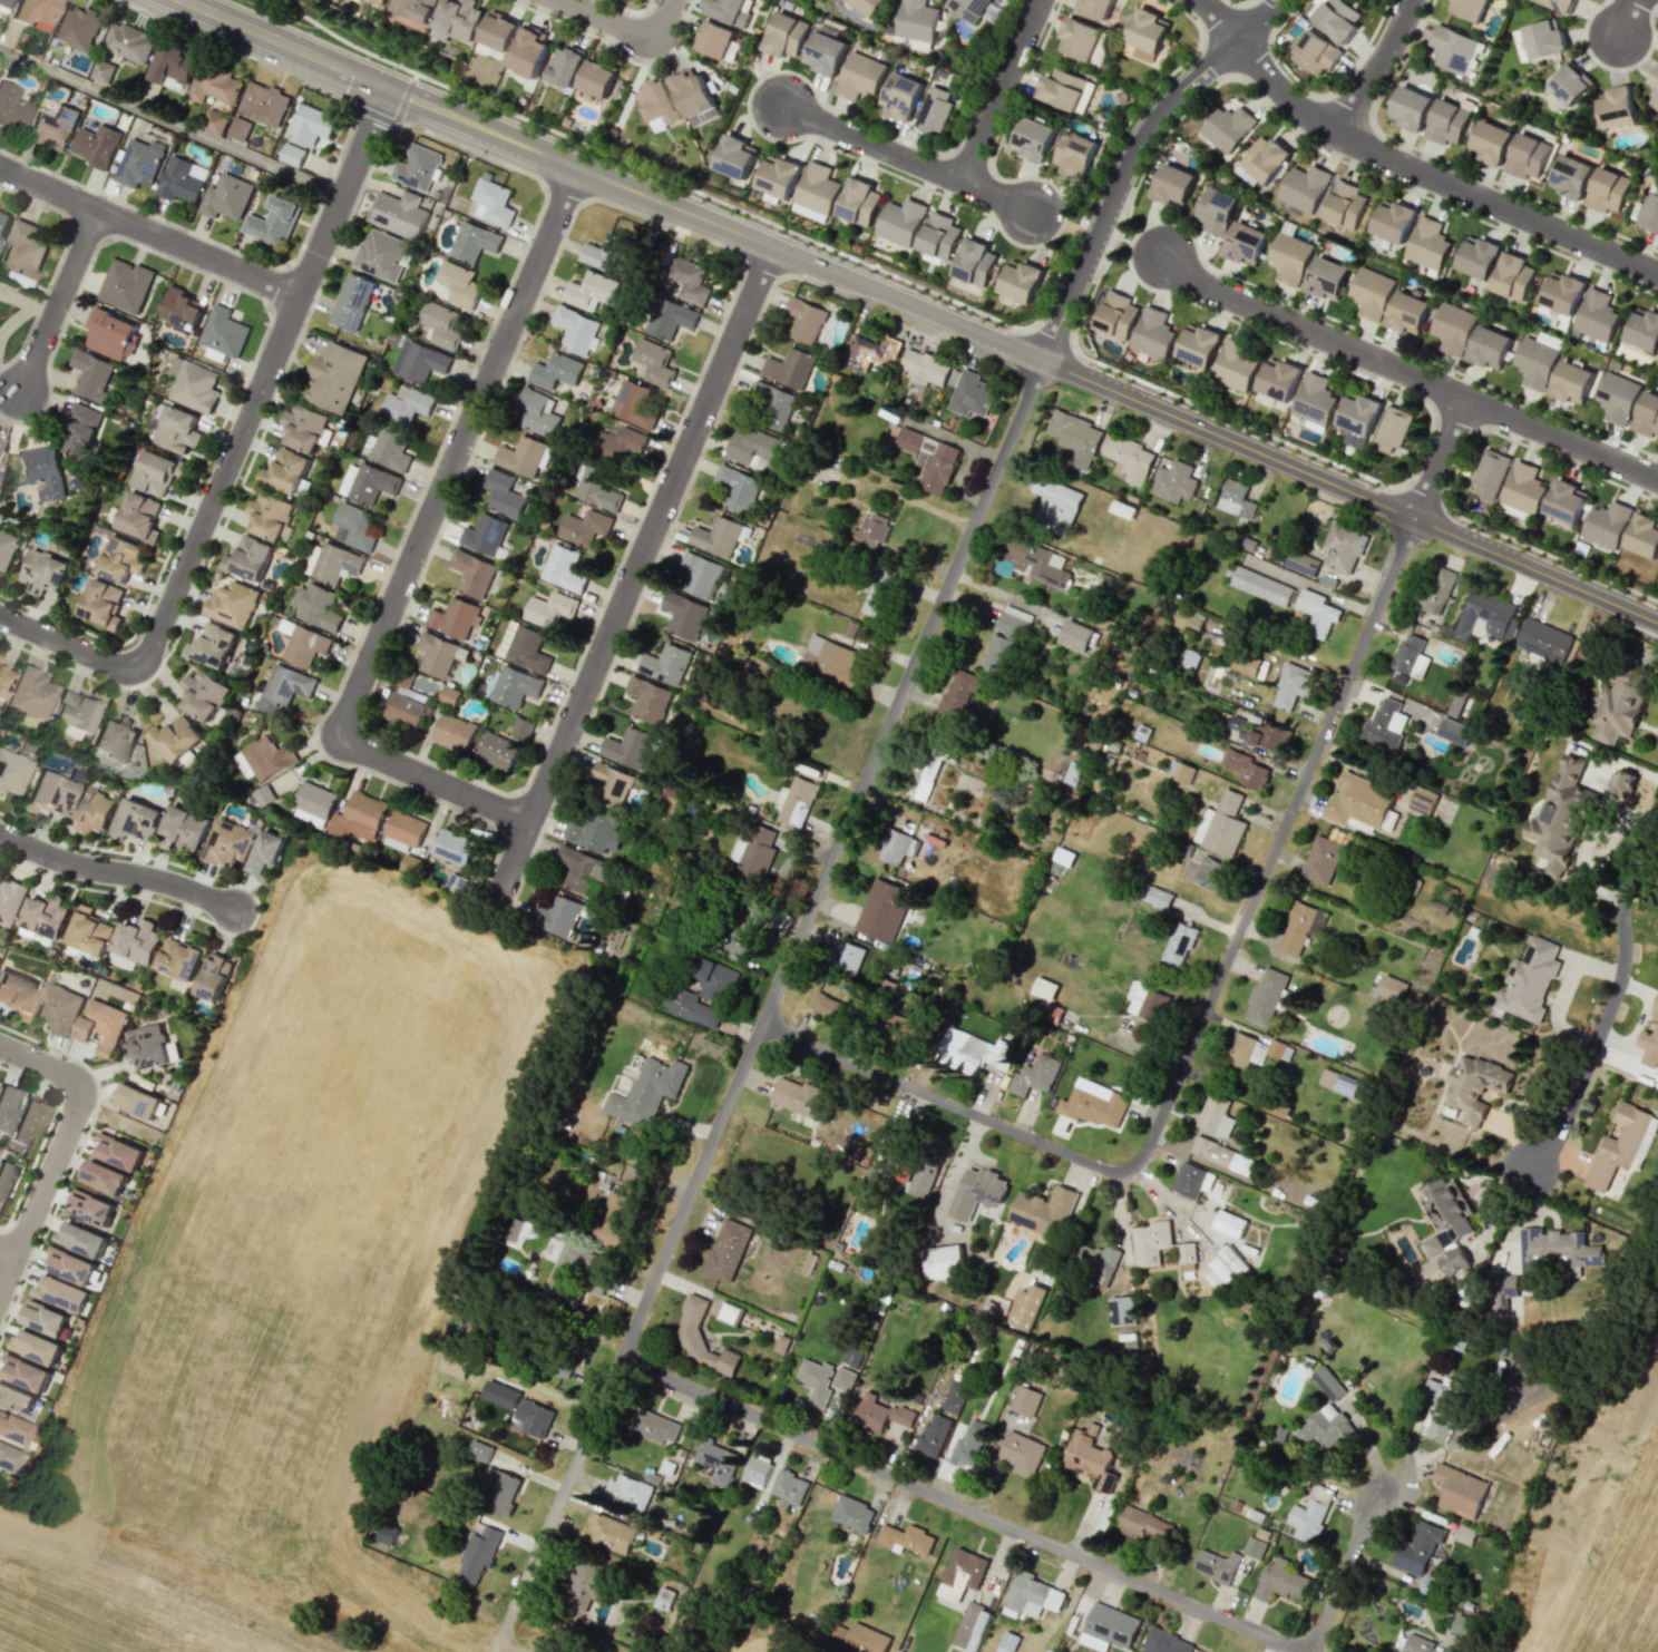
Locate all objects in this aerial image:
building: (380, 1)
building: (2, 2)
building: (1559, 4)
building: (869, 6)
building: (414, 8)
building: (969, 8)
building: (1095, 8)
building: (1470, 9)
building: (730, 10)
building: (33, 12)
road: (594, 16)
road: (1625, 16)
building: (1335, 17)
building: (456, 20)
building: (917, 25)
building: (76, 28)
road: (659, 28)
building: (1148, 30)
building: (497, 35)
building: (787, 35)
building: (1080, 38)
building: (1544, 38)
building: (715, 39)
building: (129, 41)
building: (1453, 49)
building: (528, 51)
building: (1315, 52)
building: (826, 53)
building: (565, 65)
road: (1375, 65)
building: (173, 67)
street lamp: (393, 67)
street lamp: (1602, 68)
building: (103, 71)
building: (861, 76)
building: (596, 78)
building: (214, 84)
building: (1570, 84)
building: (1655, 85)
road: (998, 90)
building: (1066, 90)
building: (901, 95)
building: (694, 97)
building: (263, 104)
building: (657, 104)
building: (11, 107)
building: (1618, 107)
building: (1411, 108)
building: (935, 110)
road: (169, 121)
building: (214, 121)
building: (1447, 123)
building: (311, 125)
street lamp: (408, 127)
building: (52, 128)
building: (240, 128)
building: (1227, 128)
building: (1033, 139)
building: (1492, 143)
building: (96, 145)
street lamp: (585, 146)
building: (292, 155)
building: (1075, 155)
building: (1528, 156)
building: (735, 157)
road: (904, 157)
road: (1125, 158)
building: (1265, 159)
building: (138, 164)
building: (417, 167)
road: (1407, 168)
building: (778, 176)
street lamp: (1044, 176)
building: (1572, 176)
building: (182, 179)
road: (611, 180)
building: (1173, 184)
building: (1304, 188)
street lamp: (937, 189)
building: (1608, 190)
building: (816, 192)
building: (226, 197)
building: (491, 202)
building: (859, 202)
building: (1346, 205)
building: (1216, 211)
building: (1649, 211)
building: (398, 213)
street lamp: (1084, 216)
road: (1053, 221)
building: (1394, 221)
building: (2, 222)
building: (273, 222)
building: (900, 222)
road: (148, 231)
building: (939, 237)
street lamp: (802, 238)
building: (474, 242)
building: (1246, 243)
building: (1428, 244)
road: (1140, 246)
building: (23, 250)
building: (606, 253)
building: (381, 254)
building: (1479, 256)
building: (1290, 257)
building: (975, 262)
building: (1512, 276)
building: (1327, 278)
building: (689, 280)
building: (1021, 281)
building: (126, 285)
building: (457, 285)
street lamp: (1252, 286)
street lamp: (1147, 290)
building: (591, 291)
building: (1372, 292)
building: (1562, 294)
road: (57, 300)
building: (351, 302)
building: (182, 309)
building: (1408, 313)
street lamp: (979, 314)
building: (1116, 315)
building: (1597, 315)
building: (671, 319)
building: (803, 320)
street lamp: (1076, 320)
building: (440, 324)
building: (1454, 328)
building: (575, 330)
building: (1644, 330)
road: (1309, 331)
building: (223, 332)
building: (110, 333)
building: (1153, 334)
building: (1198, 345)
building: (1490, 348)
building: (870, 353)
building: (419, 361)
building: (653, 362)
building: (1535, 362)
building: (1657, 363)
building: (1235, 364)
building: (924, 366)
building: (789, 368)
street lamp: (1353, 369)
building: (556, 371)
building: (92, 374)
building: (335, 375)
building: (1279, 380)
building: (1571, 382)
building: (194, 384)
street lamp: (1154, 389)
building: (968, 392)
building: (1617, 397)
building: (1315, 401)
building: (771, 403)
building: (407, 404)
building: (633, 404)
building: (539, 412)
building: (1647, 414)
building: (1358, 419)
building: (304, 427)
building: (81, 428)
building: (1392, 430)
building: (177, 431)
building: (1075, 437)
road: (1560, 438)
building: (618, 442)
road: (233, 447)
building: (388, 448)
building: (752, 448)
building: (521, 456)
road: (1438, 457)
building: (1128, 458)
street lamp: (1316, 458)
building: (929, 459)
building: (287, 470)
building: (41, 471)
building: (155, 472)
building: (1490, 473)
building: (368, 482)
building: (1173, 482)
building: (598, 487)
building: (737, 488)
building: (1523, 488)
road: (1349, 490)
building: (504, 493)
building: (1236, 498)
building: (1566, 501)
building: (1056, 506)
building: (270, 516)
building: (139, 517)
building: (1606, 525)
building: (353, 527)
building: (585, 527)
building: (870, 530)
street lamp: (1485, 530)
building: (484, 535)
building: (1644, 536)
building: (716, 537)
building: (1344, 547)
road: (416, 548)
building: (7, 549)
building: (250, 557)
building: (119, 559)
building: (331, 563)
building: (1031, 563)
building: (1300, 563)
building: (564, 569)
building: (43, 573)
building: (471, 573)
building: (700, 574)
road: (632, 577)
street lamp: (1605, 581)
road: (1365, 583)
building: (1260, 586)
building: (1436, 590)
building: (878, 592)
building: (101, 604)
building: (232, 604)
building: (316, 606)
building: (549, 609)
building: (1317, 613)
building: (683, 615)
building: (1486, 616)
building: (455, 618)
building: (1075, 635)
building: (1004, 641)
building: (1543, 641)
building: (213, 645)
building: (304, 645)
building: (439, 654)
building: (0, 656)
building: (1411, 656)
building: (1190, 661)
building: (829, 662)
building: (1246, 663)
building: (666, 664)
building: (2, 680)
building: (511, 686)
building: (1290, 686)
building: (283, 687)
building: (29, 693)
building: (203, 695)
building: (449, 695)
building: (958, 695)
building: (647, 698)
building: (1457, 705)
building: (1618, 708)
building: (404, 711)
building: (71, 712)
building: (1385, 725)
building: (521, 727)
building: (1454, 730)
building: (453, 732)
building: (1260, 734)
building: (175, 737)
building: (114, 739)
building: (627, 746)
building: (497, 750)
building: (263, 759)
building: (930, 765)
building: (1246, 769)
building: (11, 772)
building: (1073, 773)
building: (1622, 782)
building: (609, 784)
building: (46, 793)
building: (263, 795)
building: (796, 801)
building: (1359, 801)
building: (1422, 801)
building: (313, 803)
building: (90, 810)
building: (359, 817)
building: (1560, 818)
building: (137, 820)
building: (1225, 825)
building: (186, 827)
building: (404, 830)
building: (596, 832)
building: (228, 842)
building: (451, 847)
building: (894, 847)
building: (266, 853)
building: (754, 853)
building: (1064, 856)
building: (1323, 856)
building: (581, 868)
road: (117, 872)
building: (1210, 873)
building: (1159, 897)
building: (10, 900)
building: (884, 909)
building: (557, 916)
building: (45, 917)
building: (1296, 928)
building: (744, 929)
building: (89, 931)
building: (137, 940)
building: (1179, 944)
building: (179, 958)
building: (848, 958)
building: (215, 977)
building: (714, 979)
building: (1529, 980)
road: (778, 983)
building: (1392, 987)
building: (1044, 988)
road: (1562, 991)
building: (16, 994)
building: (1266, 996)
road: (1610, 998)
building: (1149, 1004)
building: (691, 1007)
building: (827, 1007)
building: (58, 1008)
building: (103, 1025)
road: (1197, 1028)
building: (1650, 1044)
building: (149, 1047)
building: (1250, 1050)
building: (976, 1053)
road: (42, 1063)
building: (1034, 1075)
building: (1339, 1082)
street lamp: (99, 1084)
building: (1473, 1088)
building: (646, 1092)
building: (802, 1098)
building: (138, 1101)
building: (1093, 1104)
building: (6, 1106)
building: (1275, 1108)
building: (1216, 1115)
building: (25, 1122)
park: (126, 1125)
building: (1648, 1135)
building: (881, 1144)
building: (1618, 1145)
building: (118, 1152)
building: (1221, 1155)
street lamp: (35, 1163)
building: (104, 1177)
building: (1192, 1180)
building: (6, 1181)
road: (40, 1191)
building: (977, 1192)
building: (591, 1193)
building: (91, 1208)
building: (1450, 1208)
building: (1043, 1211)
building: (1229, 1223)
building: (81, 1239)
building: (1150, 1242)
building: (1433, 1245)
building: (730, 1249)
road: (7, 1251)
building: (1187, 1252)
building: (1554, 1253)
building: (1453, 1260)
building: (1098, 1261)
building: (565, 1262)
building: (944, 1262)
street lamp: (29, 1264)
building: (69, 1265)
building: (1226, 1267)
road: (8, 1284)
building: (1503, 1290)
building: (60, 1293)
building: (1031, 1307)
building: (1122, 1311)
building: (781, 1343)
building: (36, 1347)
building: (851, 1357)
building: (455, 1365)
building: (25, 1372)
building: (842, 1379)
building: (816, 1380)
building: (1328, 1382)
building: (500, 1394)
building: (955, 1397)
building: (16, 1400)
building: (1025, 1400)
building: (1437, 1410)
building: (879, 1412)
building: (533, 1418)
building: (655, 1426)
building: (1325, 1428)
building: (11, 1430)
building: (933, 1436)
building: (1544, 1439)
building: (969, 1444)
building: (479, 1451)
building: (1022, 1454)
building: (6, 1458)
building: (718, 1462)
building: (1093, 1462)
building: (755, 1472)
building: (788, 1488)
building: (1460, 1490)
building: (627, 1492)
building: (501, 1493)
road: (962, 1504)
building: (852, 1513)
building: (1307, 1519)
building: (1143, 1526)
building: (608, 1534)
building: (1464, 1534)
building: (905, 1538)
building: (1254, 1547)
building: (1418, 1547)
building: (478, 1554)
building: (1216, 1565)
building: (962, 1574)
road: (1343, 1574)
building: (1281, 1582)
building: (1031, 1596)
crop: (98, 1610)
building: (971, 1624)
building: (1100, 1624)
road: (501, 1629)
building: (860, 1638)
building: (1008, 1642)
building: (1164, 1642)
building: (1423, 1645)
road: (498, 1650)

